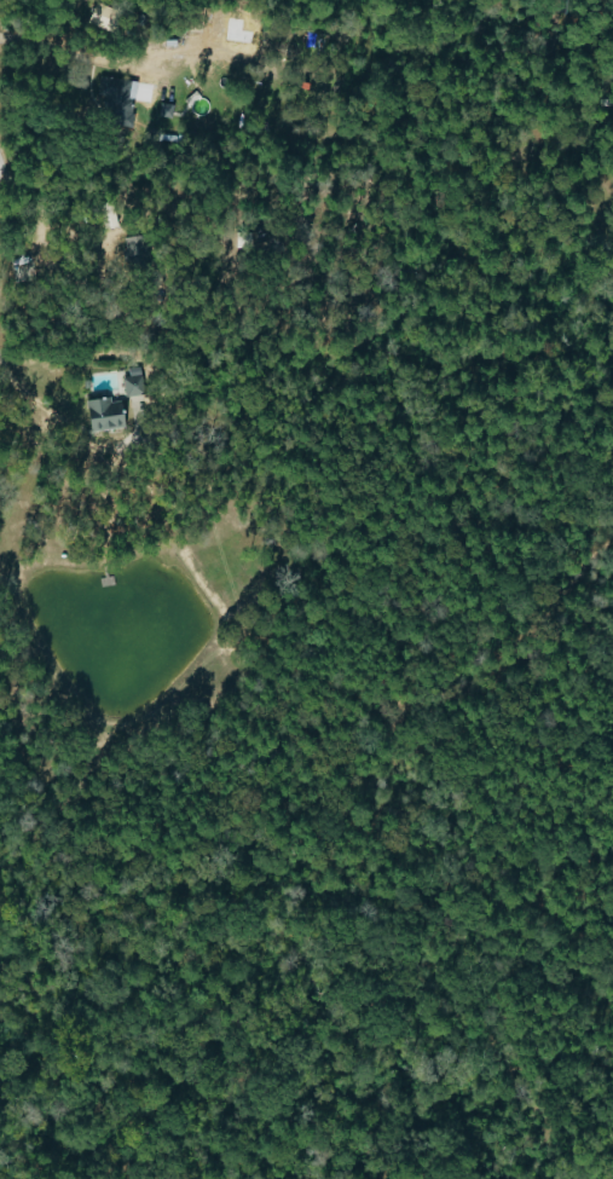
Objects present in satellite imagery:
road: (53, 48)
building: (115, 102)
building: (132, 383)
road: (39, 409)
building: (103, 414)

